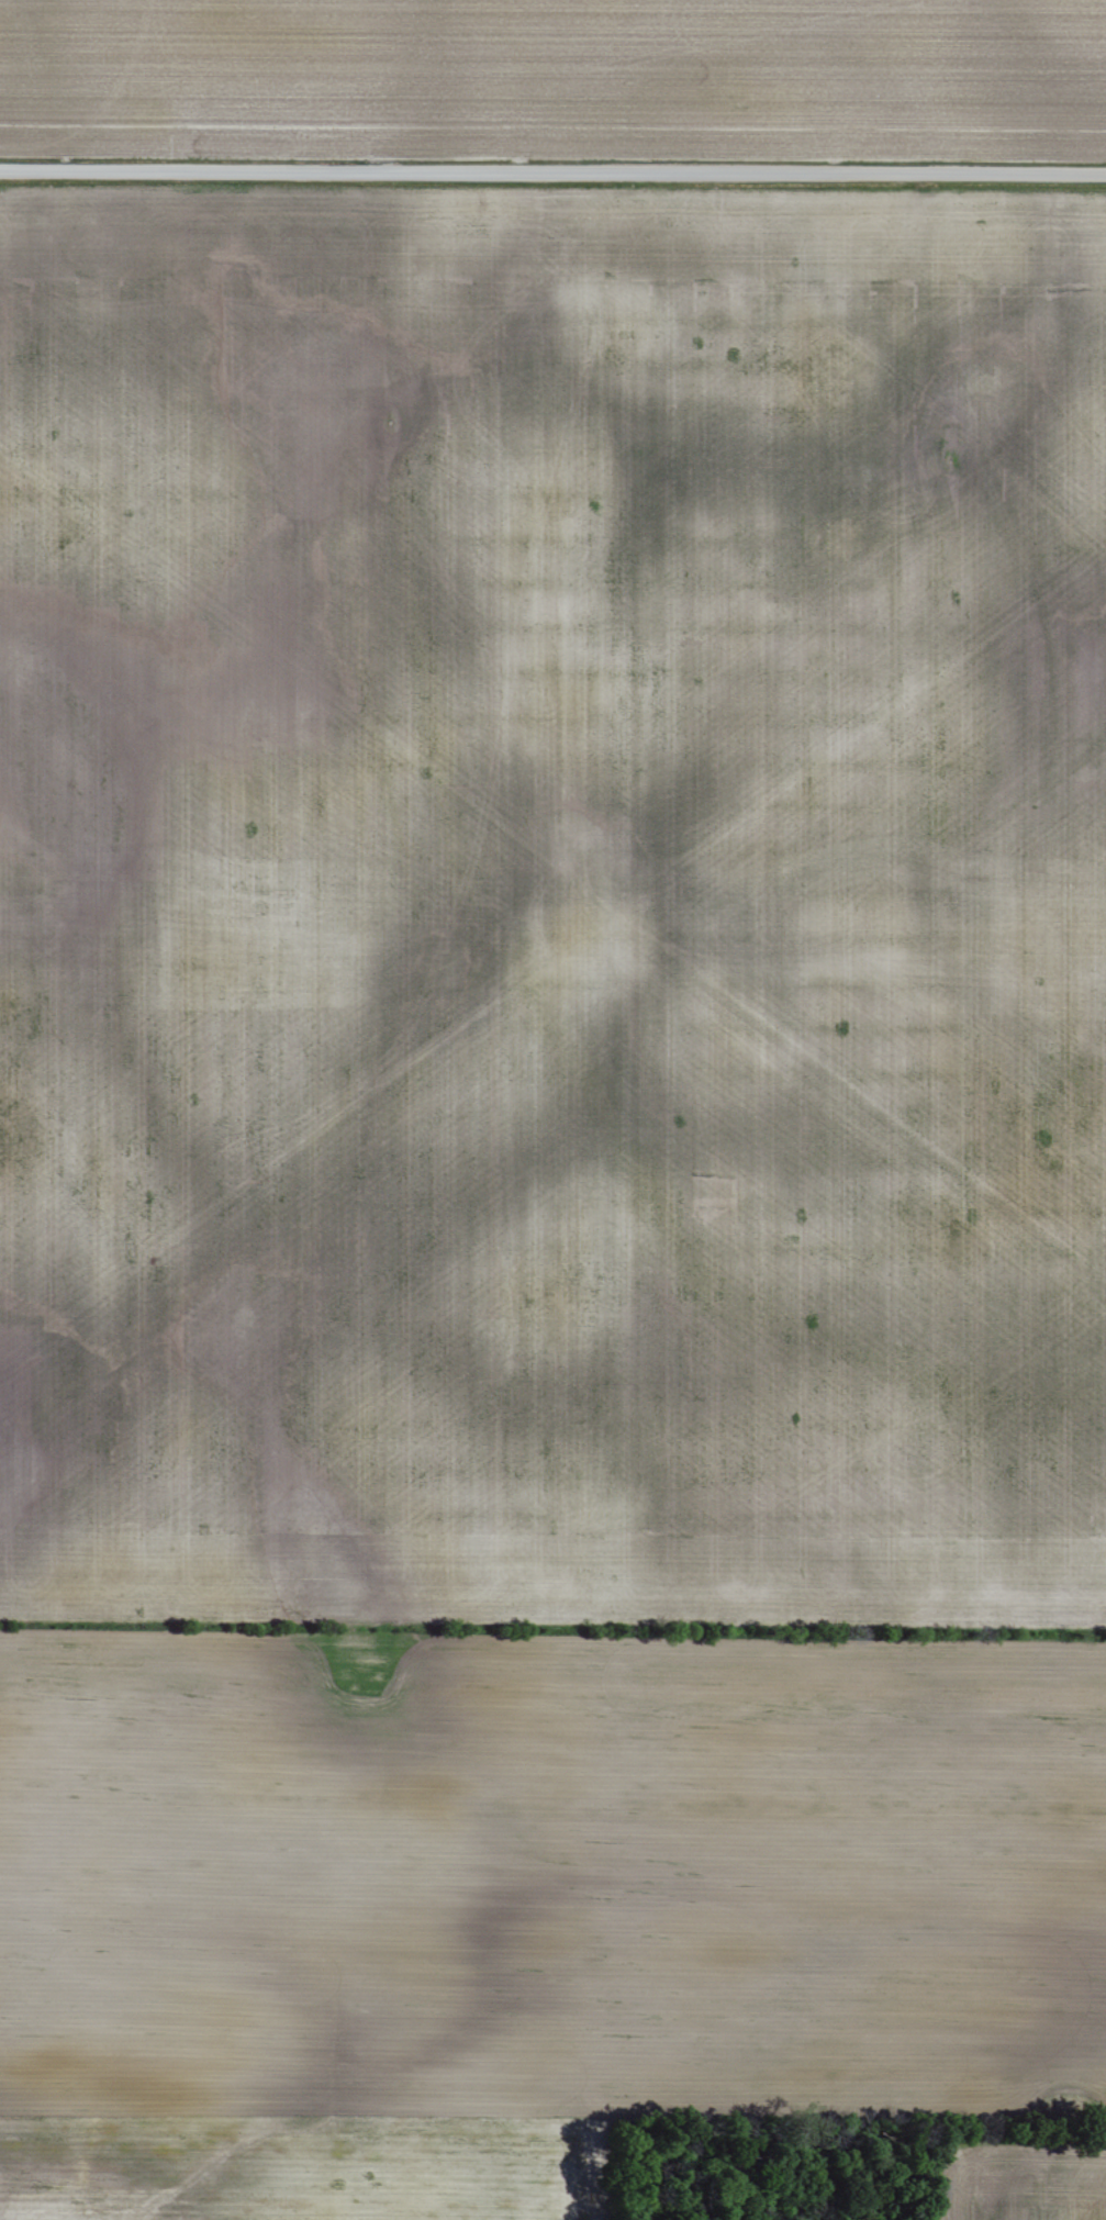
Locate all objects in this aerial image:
road: (552, 172)

